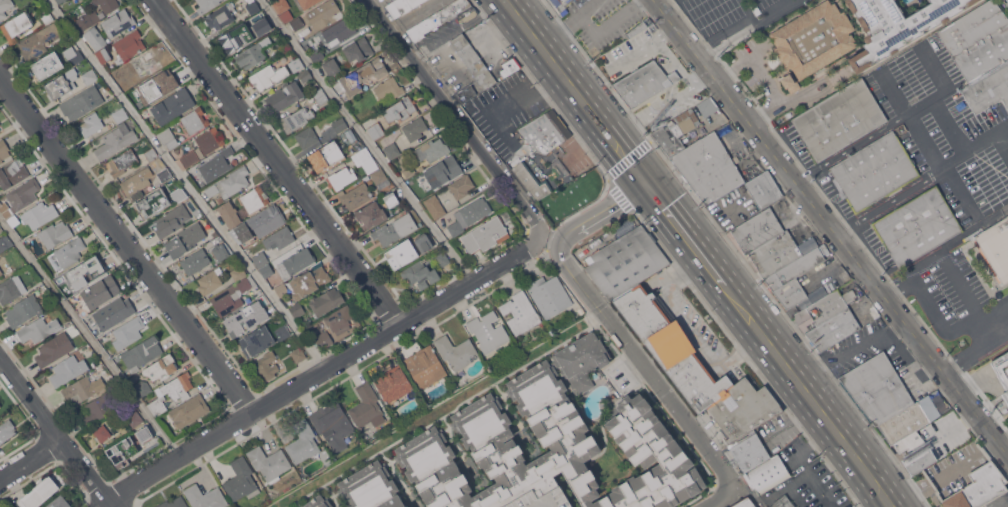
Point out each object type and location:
building: (544, 0)
building: (567, 0)
building: (59, 1)
building: (392, 1)
building: (557, 2)
building: (307, 3)
road: (664, 4)
building: (107, 5)
building: (207, 5)
building: (281, 5)
building: (403, 6)
building: (4, 7)
building: (252, 7)
road: (747, 11)
road: (774, 11)
building: (324, 14)
road: (411, 14)
building: (220, 16)
building: (286, 16)
building: (46, 17)
building: (443, 18)
building: (87, 20)
building: (118, 22)
building: (297, 23)
building: (18, 25)
building: (895, 25)
building: (266, 26)
building: (637, 29)
building: (339, 31)
road: (561, 32)
road: (666, 34)
road: (598, 35)
building: (235, 37)
building: (95, 38)
building: (813, 39)
road: (658, 40)
road: (726, 40)
building: (38, 41)
building: (128, 45)
building: (282, 46)
building: (464, 49)
building: (358, 50)
building: (253, 53)
building: (72, 54)
building: (981, 54)
building: (103, 55)
building: (317, 56)
building: (144, 64)
building: (296, 64)
road: (756, 64)
building: (47, 65)
building: (331, 66)
building: (510, 66)
building: (117, 73)
building: (482, 73)
building: (90, 76)
building: (268, 76)
building: (305, 76)
building: (361, 77)
road: (701, 78)
building: (165, 82)
building: (644, 83)
building: (62, 84)
building: (388, 88)
road: (535, 90)
building: (149, 91)
road: (578, 91)
building: (465, 93)
building: (284, 96)
building: (320, 97)
road: (796, 99)
building: (82, 102)
building: (173, 106)
building: (708, 106)
building: (400, 109)
road: (653, 110)
building: (120, 115)
road: (455, 117)
building: (194, 120)
building: (294, 120)
building: (838, 120)
road: (914, 120)
road: (890, 122)
building: (91, 124)
building: (340, 125)
building: (413, 129)
building: (726, 129)
building: (376, 130)
building: (545, 131)
building: (676, 131)
building: (167, 137)
building: (308, 138)
building: (210, 140)
building: (351, 140)
building: (115, 141)
road: (366, 141)
building: (3, 150)
building: (391, 150)
building: (430, 150)
building: (151, 154)
building: (325, 156)
building: (189, 158)
building: (365, 160)
building: (121, 162)
road: (278, 163)
building: (216, 164)
building: (161, 170)
building: (443, 171)
building: (874, 171)
building: (721, 172)
building: (12, 173)
building: (378, 176)
building: (341, 178)
road: (924, 178)
building: (532, 180)
building: (229, 183)
building: (135, 184)
road: (185, 184)
traffic signals: (648, 184)
building: (200, 186)
building: (461, 186)
building: (179, 194)
building: (356, 196)
building: (20, 198)
building: (254, 199)
building: (391, 199)
building: (153, 204)
building: (434, 206)
road: (601, 212)
building: (38, 214)
building: (229, 214)
building: (371, 215)
building: (469, 215)
building: (171, 220)
building: (14, 221)
building: (260, 224)
building: (916, 226)
building: (395, 229)
road: (829, 229)
building: (54, 233)
building: (485, 234)
building: (279, 238)
building: (187, 239)
building: (4, 242)
road: (125, 243)
building: (424, 243)
building: (767, 243)
road: (696, 247)
building: (996, 247)
building: (70, 251)
building: (220, 251)
building: (404, 252)
building: (260, 258)
building: (298, 260)
building: (442, 260)
building: (626, 261)
building: (194, 262)
building: (266, 270)
building: (1, 271)
building: (86, 273)
building: (238, 273)
building: (0, 274)
building: (419, 275)
building: (792, 279)
building: (209, 281)
building: (309, 282)
building: (11, 288)
road: (897, 288)
road: (966, 288)
building: (281, 289)
building: (100, 291)
building: (548, 295)
building: (230, 297)
building: (325, 301)
road: (925, 301)
building: (296, 309)
building: (23, 310)
building: (114, 312)
building: (520, 312)
building: (246, 318)
building: (828, 318)
building: (342, 321)
building: (39, 328)
building: (128, 331)
building: (282, 331)
building: (488, 331)
road: (89, 336)
building: (323, 339)
building: (257, 340)
building: (54, 348)
road: (849, 350)
building: (456, 351)
building: (141, 352)
building: (298, 354)
building: (267, 365)
road: (644, 365)
building: (1005, 365)
building: (425, 366)
building: (161, 367)
building: (695, 367)
building: (69, 368)
road: (322, 370)
building: (460, 379)
building: (393, 384)
building: (142, 387)
building: (82, 388)
building: (877, 388)
building: (171, 391)
road: (819, 407)
building: (366, 408)
building: (96, 409)
building: (189, 410)
building: (134, 419)
building: (910, 420)
road: (793, 421)
building: (332, 424)
building: (6, 430)
building: (102, 433)
building: (144, 433)
road: (56, 436)
road: (1002, 439)
building: (303, 442)
building: (551, 445)
building: (122, 451)
building: (915, 453)
building: (326, 457)
building: (334, 458)
road: (801, 458)
road: (30, 459)
building: (269, 462)
building: (757, 462)
road: (944, 476)
building: (241, 480)
building: (370, 487)
building: (978, 488)
building: (39, 492)
building: (205, 497)
road: (718, 498)
building: (316, 502)
building: (56, 503)
building: (173, 503)
building: (744, 503)
building: (406, 506)

